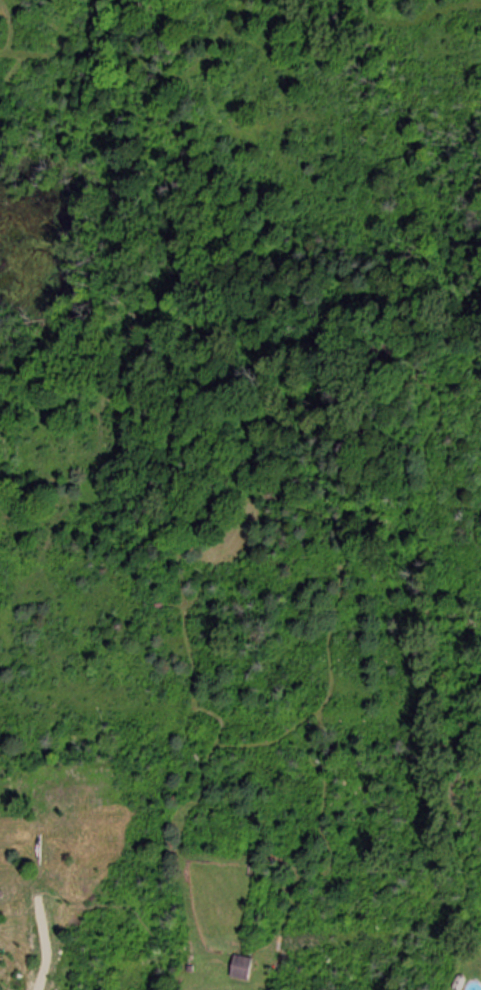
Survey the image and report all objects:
building: (245, 968)

